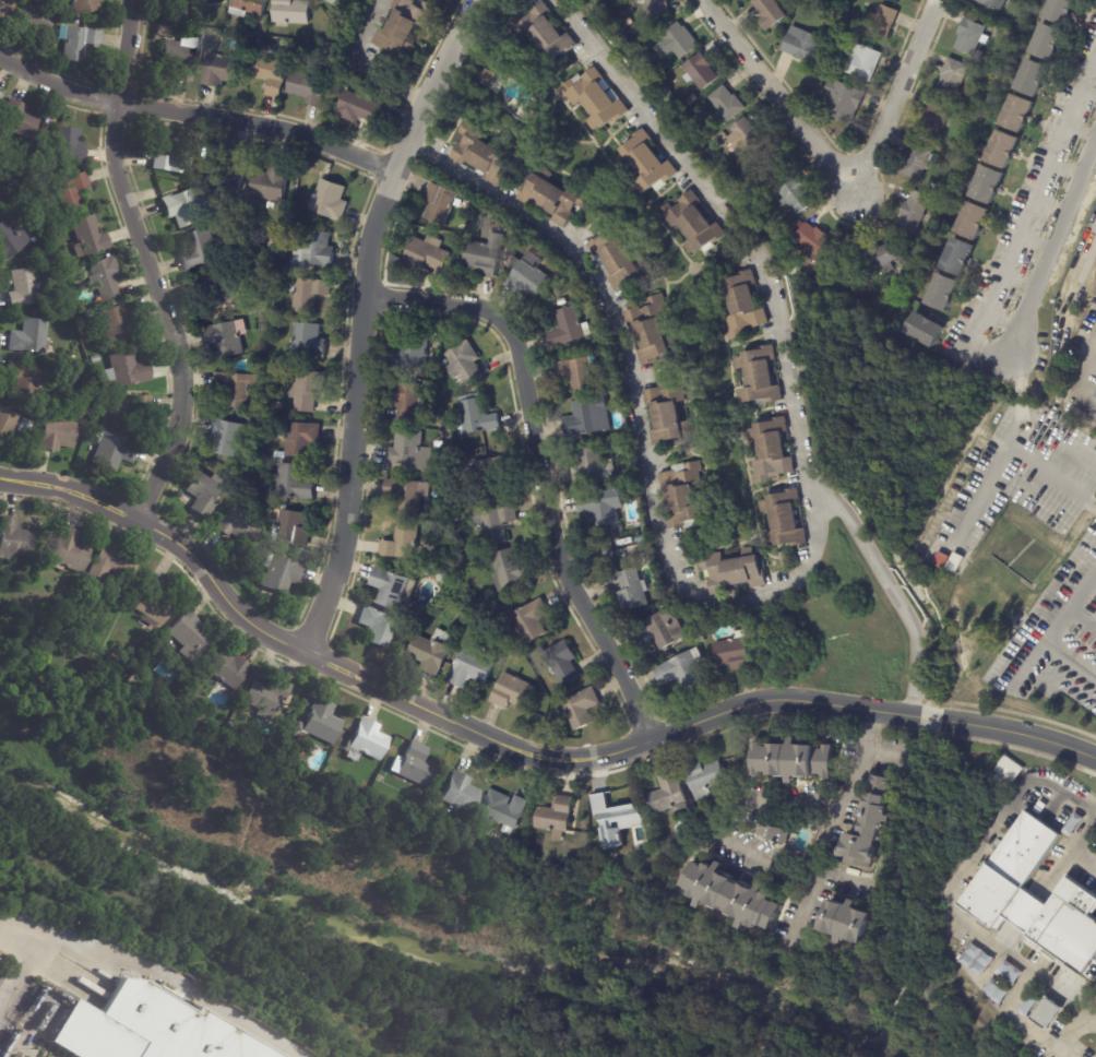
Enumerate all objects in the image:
building: (797, 0)
building: (58, 2)
building: (334, 2)
building: (996, 3)
building: (84, 7)
building: (656, 7)
building: (249, 8)
building: (4, 9)
building: (1063, 10)
building: (293, 12)
building: (766, 12)
building: (169, 17)
building: (32, 21)
building: (181, 21)
building: (628, 21)
building: (882, 21)
building: (403, 28)
building: (546, 31)
building: (162, 32)
building: (970, 35)
building: (305, 36)
building: (1049, 38)
building: (680, 41)
building: (78, 44)
building: (801, 44)
building: (291, 47)
building: (979, 55)
building: (181, 58)
building: (863, 61)
building: (248, 63)
road: (358, 67)
building: (701, 70)
building: (221, 71)
building: (819, 74)
building: (488, 75)
building: (272, 76)
building: (1036, 78)
building: (956, 80)
building: (310, 85)
building: (1, 97)
building: (336, 97)
building: (597, 99)
building: (691, 99)
building: (845, 99)
building: (727, 103)
building: (358, 109)
building: (1020, 114)
road: (196, 115)
building: (970, 116)
building: (936, 118)
building: (17, 120)
building: (723, 135)
building: (749, 135)
building: (65, 147)
building: (1003, 149)
building: (484, 153)
building: (177, 157)
building: (920, 162)
building: (648, 163)
road: (1052, 165)
building: (773, 167)
building: (313, 171)
building: (229, 175)
building: (272, 182)
road: (838, 185)
building: (936, 186)
building: (988, 186)
building: (949, 191)
building: (69, 193)
building: (23, 194)
building: (798, 195)
building: (553, 197)
building: (329, 200)
road: (1037, 200)
building: (440, 202)
building: (183, 206)
building: (915, 211)
building: (973, 221)
building: (694, 222)
building: (798, 226)
road: (1094, 228)
building: (457, 236)
building: (517, 237)
building: (88, 238)
road: (1022, 238)
building: (815, 240)
building: (11, 242)
building: (310, 249)
building: (206, 250)
building: (428, 253)
building: (486, 254)
building: (883, 256)
building: (961, 257)
building: (619, 258)
building: (45, 259)
road: (147, 263)
road: (1055, 263)
road: (1002, 272)
building: (69, 275)
building: (527, 275)
building: (105, 280)
building: (25, 288)
building: (556, 290)
building: (218, 292)
building: (944, 293)
building: (305, 295)
building: (259, 299)
building: (562, 301)
building: (742, 305)
building: (274, 309)
road: (359, 318)
building: (117, 323)
road: (973, 325)
building: (568, 329)
building: (653, 330)
building: (926, 330)
building: (228, 337)
building: (31, 339)
building: (305, 340)
building: (88, 341)
building: (416, 352)
building: (69, 360)
building: (95, 360)
building: (466, 365)
road: (1084, 371)
building: (126, 372)
building: (580, 372)
building: (761, 376)
building: (1095, 381)
building: (24, 382)
building: (434, 387)
building: (238, 388)
building: (306, 390)
building: (1094, 395)
building: (413, 404)
building: (278, 405)
building: (128, 412)
building: (669, 412)
building: (477, 416)
building: (84, 417)
building: (589, 417)
building: (107, 425)
building: (7, 426)
building: (25, 428)
building: (57, 435)
building: (227, 437)
building: (300, 438)
building: (410, 448)
building: (773, 450)
road: (1003, 451)
building: (114, 452)
building: (595, 462)
road: (538, 467)
building: (440, 470)
building: (492, 475)
building: (294, 483)
building: (205, 492)
building: (684, 495)
building: (407, 496)
building: (604, 506)
building: (453, 513)
building: (443, 515)
building: (786, 520)
building: (497, 524)
building: (237, 525)
building: (293, 531)
building: (14, 538)
building: (403, 543)
building: (69, 551)
building: (631, 551)
building: (111, 563)
building: (509, 570)
building: (735, 571)
building: (281, 573)
building: (443, 575)
road: (785, 582)
building: (393, 589)
road: (891, 589)
building: (632, 591)
building: (154, 604)
building: (461, 620)
building: (531, 621)
building: (378, 626)
building: (702, 628)
building: (662, 629)
road: (1055, 629)
building: (190, 636)
building: (701, 638)
building: (432, 651)
building: (502, 652)
building: (732, 652)
building: (562, 664)
building: (473, 666)
building: (683, 670)
building: (228, 673)
building: (512, 691)
building: (266, 698)
building: (293, 698)
building: (581, 708)
building: (287, 711)
building: (322, 722)
building: (367, 739)
road: (517, 751)
building: (791, 760)
building: (416, 765)
building: (705, 776)
building: (1002, 777)
building: (668, 792)
building: (461, 793)
building: (505, 810)
building: (557, 815)
building: (613, 820)
road: (831, 821)
building: (872, 824)
building: (773, 833)
road: (718, 834)
road: (1080, 843)
park: (452, 878)
road: (952, 887)
building: (734, 893)
building: (670, 894)
building: (999, 899)
building: (848, 922)
building: (975, 960)
road: (22, 971)
building: (1008, 973)
road: (155, 976)
road: (5, 984)
building: (994, 990)
building: (1044, 1012)
building: (148, 1028)

